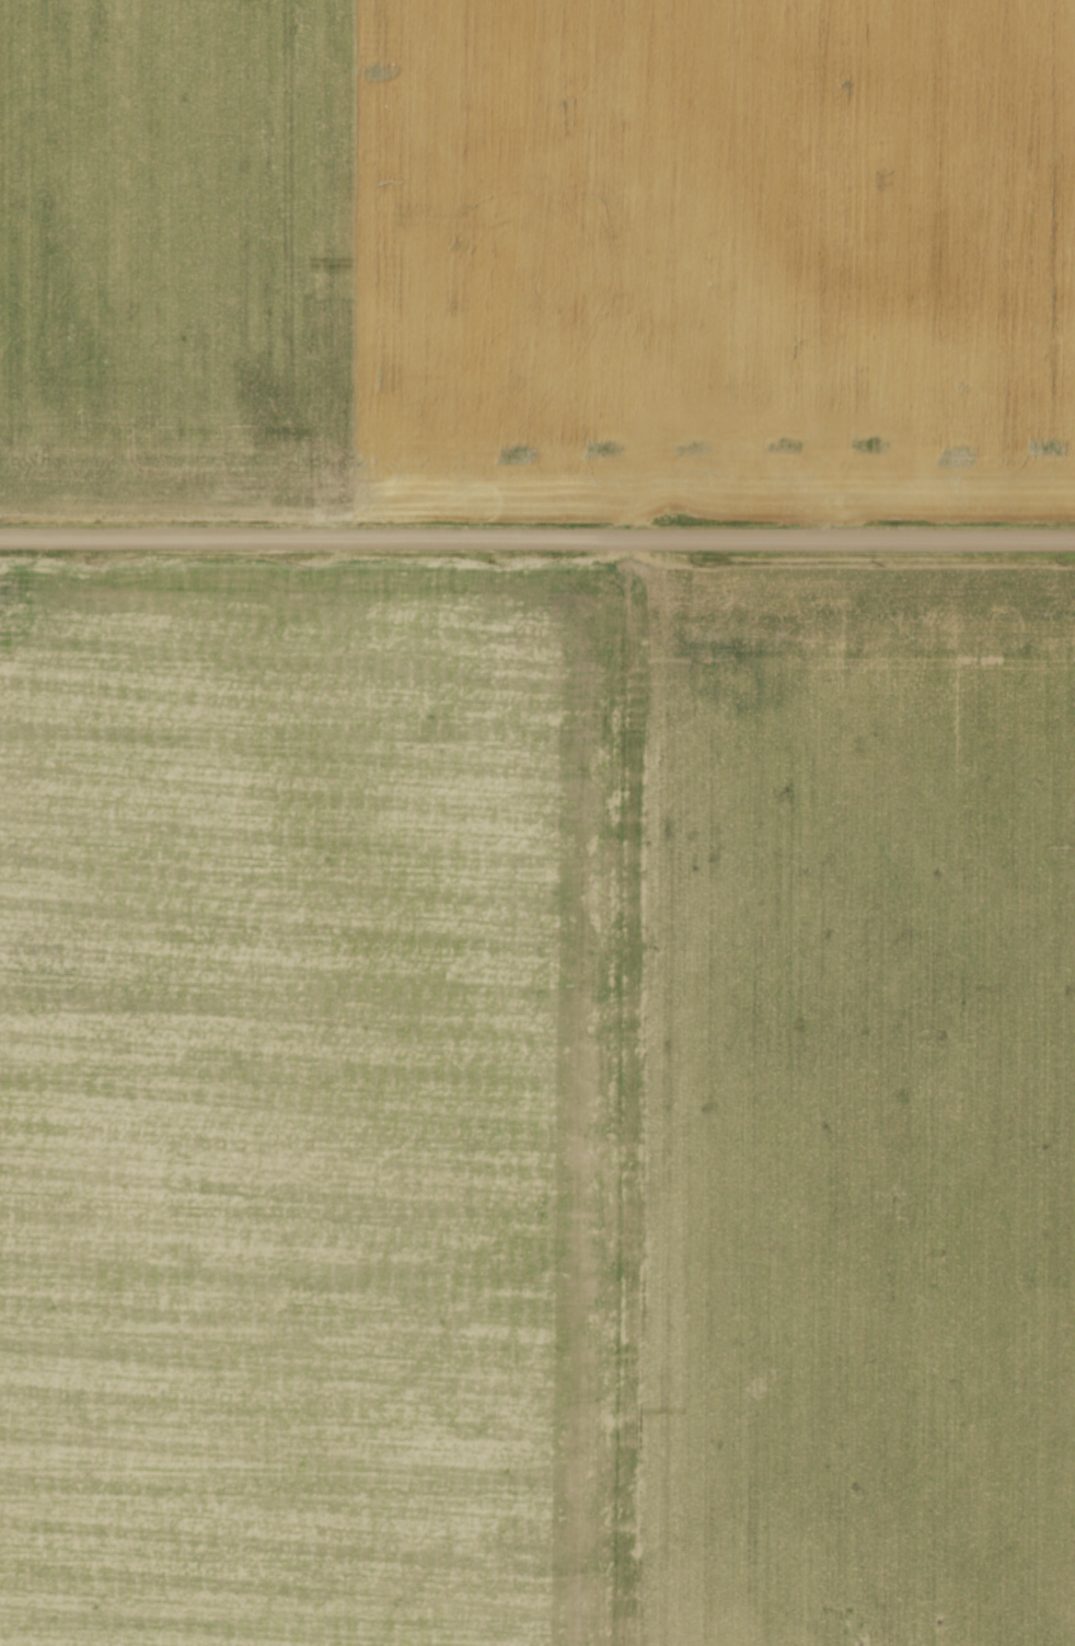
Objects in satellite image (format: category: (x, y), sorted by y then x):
crop: (536, 256)
road: (537, 537)
crop: (536, 1102)

